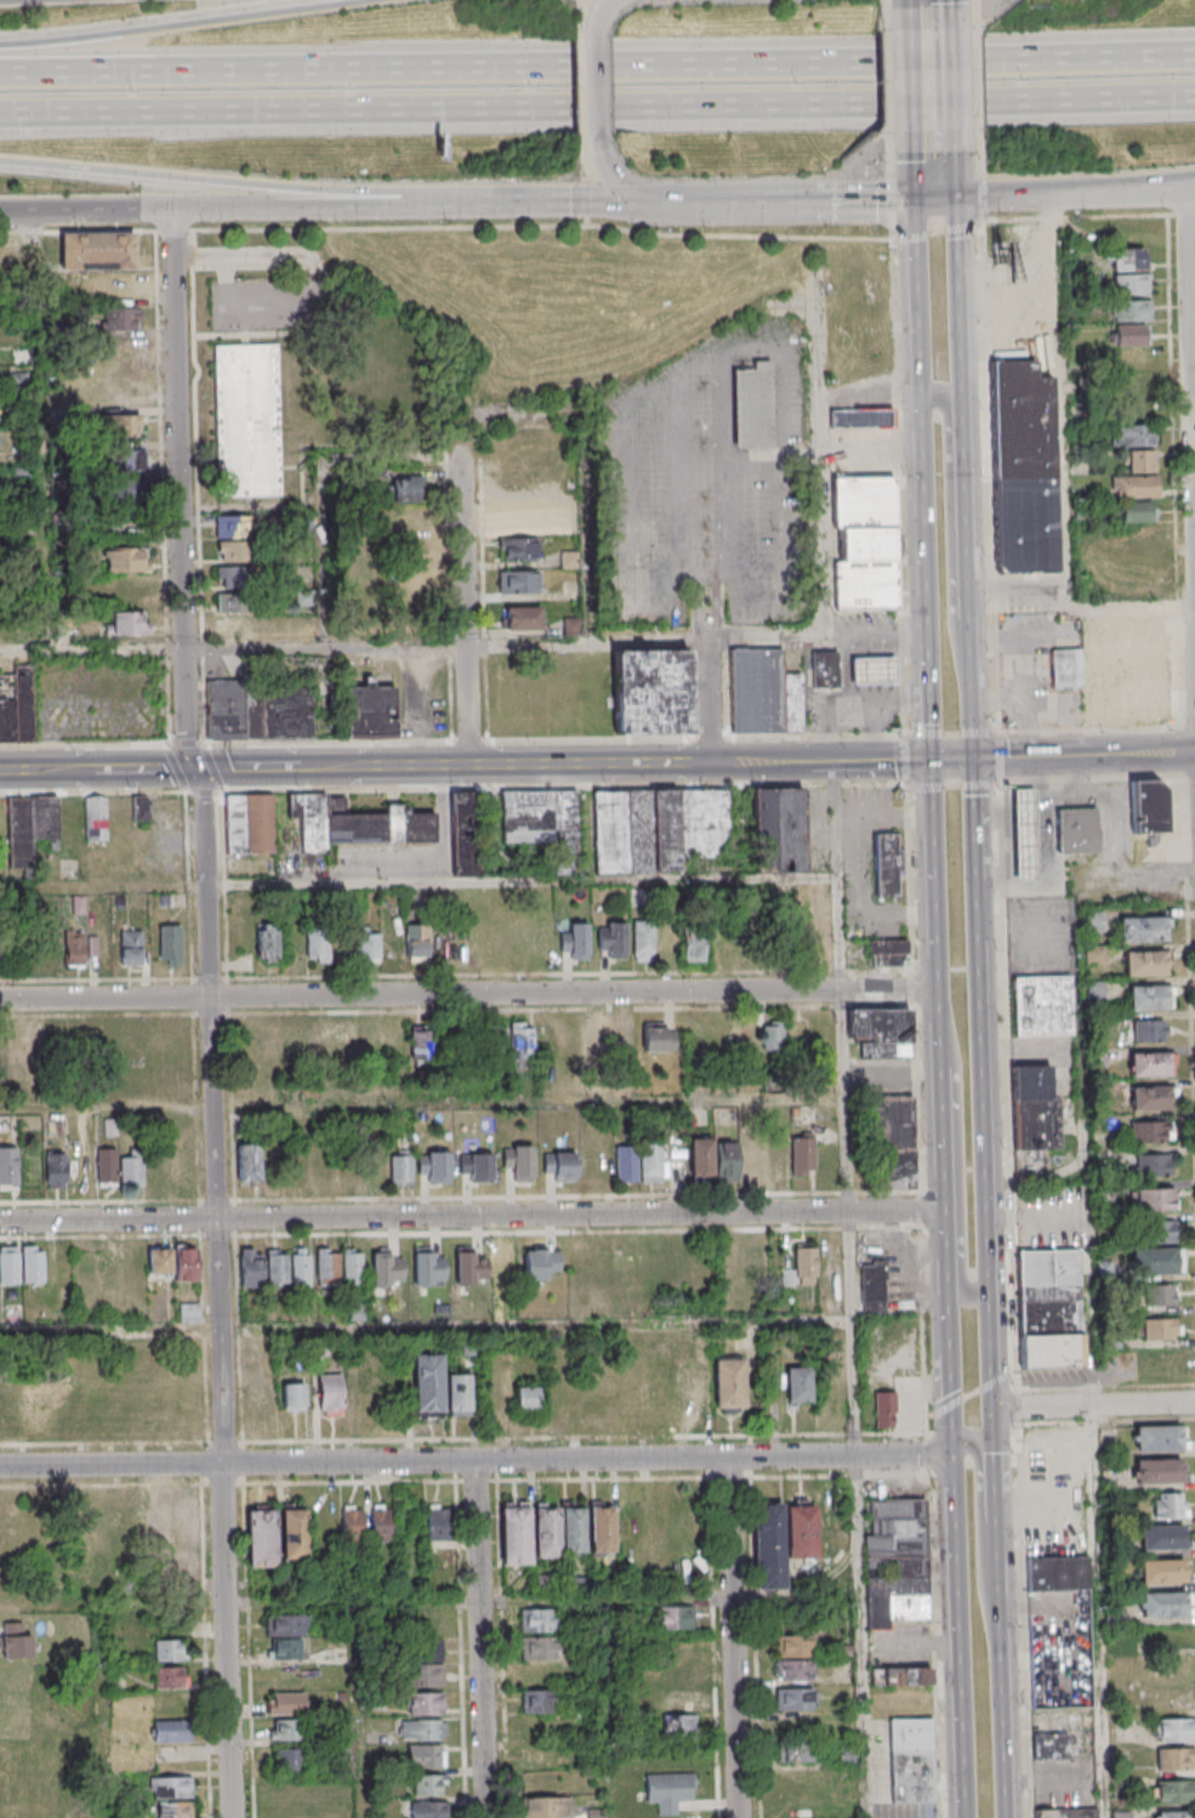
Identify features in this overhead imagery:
road: (975, 2)
road: (931, 4)
road: (882, 5)
road: (602, 17)
road: (184, 24)
road: (597, 66)
road: (979, 78)
road: (934, 80)
road: (887, 81)
road: (599, 86)
road: (597, 108)
road: (889, 160)
road: (613, 174)
road: (938, 175)
road: (221, 182)
road: (1157, 184)
road: (981, 186)
road: (1156, 192)
road: (1029, 194)
traffic signals: (939, 197)
traffic signals: (648, 200)
road: (704, 200)
road: (787, 200)
road: (877, 200)
road: (545, 201)
road: (888, 203)
road: (221, 209)
road: (1074, 216)
road: (935, 232)
building: (101, 250)
building: (1126, 259)
building: (1131, 283)
building: (120, 286)
road: (920, 291)
road: (960, 301)
building: (1131, 309)
building: (123, 319)
building: (1131, 334)
road: (1189, 381)
building: (751, 405)
building: (860, 417)
building: (246, 420)
building: (1133, 434)
road: (874, 451)
road: (823, 456)
building: (129, 459)
building: (1139, 461)
road: (593, 466)
road: (1065, 466)
road: (1173, 468)
road: (320, 478)
road: (895, 485)
building: (1134, 487)
parking lot: (715, 488)
building: (406, 489)
building: (132, 499)
building: (1025, 499)
building: (522, 511)
building: (1137, 512)
road: (733, 515)
road: (952, 532)
building: (234, 538)
building: (1134, 538)
building: (864, 542)
building: (518, 549)
road: (968, 551)
building: (125, 558)
building: (569, 559)
road: (928, 578)
building: (518, 581)
building: (233, 589)
road: (470, 601)
building: (522, 618)
building: (126, 623)
road: (558, 641)
road: (93, 650)
building: (876, 669)
building: (827, 670)
building: (1115, 672)
building: (650, 692)
building: (763, 693)
road: (709, 700)
building: (258, 710)
building: (370, 711)
road: (972, 722)
road: (1088, 727)
road: (950, 734)
road: (1083, 755)
road: (998, 756)
road: (906, 759)
traffic signals: (934, 760)
road: (954, 760)
traffic signals: (973, 760)
road: (467, 766)
traffic signals: (193, 769)
road: (952, 785)
building: (142, 807)
building: (1148, 807)
building: (96, 818)
building: (249, 823)
building: (357, 823)
building: (544, 824)
building: (30, 826)
building: (658, 829)
building: (778, 830)
building: (1080, 830)
road: (975, 831)
building: (465, 834)
building: (1026, 834)
building: (886, 863)
road: (937, 874)
road: (840, 875)
road: (911, 880)
road: (420, 881)
building: (1092, 921)
building: (1143, 928)
building: (823, 937)
building: (611, 939)
building: (643, 939)
building: (267, 941)
building: (416, 941)
building: (574, 942)
building: (92, 944)
building: (170, 944)
building: (693, 944)
building: (317, 945)
building: (368, 945)
building: (74, 947)
building: (131, 947)
building: (888, 953)
building: (1093, 955)
building: (1144, 962)
road: (914, 989)
road: (470, 994)
building: (1149, 996)
building: (1041, 1006)
road: (214, 1011)
road: (941, 1023)
building: (1149, 1029)
building: (620, 1032)
building: (880, 1032)
building: (596, 1036)
building: (764, 1036)
building: (655, 1038)
building: (522, 1040)
building: (319, 1042)
building: (345, 1044)
building: (420, 1044)
building: (28, 1050)
building: (1149, 1063)
road: (1008, 1086)
road: (848, 1098)
road: (918, 1098)
building: (1149, 1098)
road: (984, 1100)
road: (423, 1103)
building: (1037, 1109)
building: (1151, 1132)
building: (895, 1142)
road: (960, 1155)
building: (701, 1158)
building: (790, 1158)
building: (739, 1160)
building: (519, 1161)
building: (249, 1163)
building: (625, 1163)
building: (650, 1163)
building: (107, 1164)
building: (434, 1165)
building: (476, 1166)
building: (559, 1166)
building: (1153, 1166)
building: (8, 1168)
building: (56, 1169)
building: (375, 1169)
building: (400, 1169)
building: (132, 1170)
road: (946, 1183)
building: (1149, 1199)
road: (922, 1210)
road: (473, 1214)
road: (1024, 1214)
building: (1159, 1233)
building: (159, 1260)
building: (1155, 1260)
building: (755, 1261)
building: (186, 1262)
building: (540, 1262)
building: (33, 1263)
building: (8, 1265)
building: (326, 1266)
building: (353, 1266)
building: (428, 1266)
building: (803, 1266)
building: (251, 1267)
building: (277, 1267)
building: (301, 1267)
building: (470, 1267)
building: (503, 1267)
building: (387, 1268)
building: (871, 1289)
building: (1161, 1296)
building: (1051, 1309)
road: (426, 1325)
building: (1162, 1328)
road: (951, 1329)
road: (854, 1333)
road: (924, 1333)
road: (991, 1351)
road: (952, 1373)
road: (1014, 1374)
road: (996, 1381)
building: (732, 1382)
building: (431, 1385)
building: (798, 1385)
building: (330, 1393)
building: (457, 1393)
road: (974, 1393)
building: (294, 1397)
building: (525, 1399)
road: (950, 1405)
road: (1019, 1405)
road: (1094, 1407)
traffic signals: (994, 1408)
building: (884, 1409)
road: (932, 1415)
road: (955, 1424)
road: (995, 1431)
building: (1159, 1438)
road: (465, 1439)
traffic signals: (956, 1439)
road: (931, 1454)
building: (1054, 1454)
traffic signals: (956, 1455)
road: (478, 1461)
building: (1159, 1470)
road: (996, 1475)
road: (465, 1481)
building: (1170, 1505)
road: (997, 1509)
building: (381, 1523)
building: (437, 1523)
building: (158, 1524)
building: (352, 1524)
building: (130, 1526)
building: (187, 1527)
building: (604, 1530)
building: (294, 1532)
building: (576, 1532)
building: (804, 1532)
building: (550, 1533)
building: (518, 1535)
road: (984, 1535)
building: (1162, 1536)
building: (261, 1538)
building: (773, 1546)
road: (1100, 1550)
building: (1162, 1570)
building: (1052, 1574)
road: (546, 1601)
building: (1165, 1603)
road: (114, 1604)
building: (897, 1610)
building: (675, 1617)
road: (1025, 1619)
building: (540, 1620)
building: (290, 1625)
road: (962, 1636)
road: (736, 1637)
road: (864, 1637)
road: (483, 1640)
building: (15, 1641)
road: (933, 1643)
building: (793, 1646)
building: (541, 1648)
building: (290, 1649)
building: (173, 1651)
building: (793, 1670)
road: (1002, 1670)
building: (679, 1672)
building: (429, 1675)
building: (176, 1677)
building: (678, 1699)
building: (795, 1699)
building: (1167, 1700)
building: (539, 1701)
building: (286, 1703)
building: (428, 1704)
road: (613, 1709)
road: (360, 1710)
road: (107, 1711)
building: (679, 1726)
building: (280, 1729)
building: (426, 1729)
building: (1176, 1729)
building: (175, 1732)
building: (1049, 1745)
building: (795, 1751)
building: (428, 1756)
building: (1176, 1757)
building: (289, 1759)
building: (911, 1760)
building: (432, 1784)
building: (176, 1788)
building: (670, 1790)
building: (1173, 1791)
building: (547, 1807)
building: (177, 1810)
building: (432, 1810)
building: (1046, 1813)
building: (1173, 1814)

